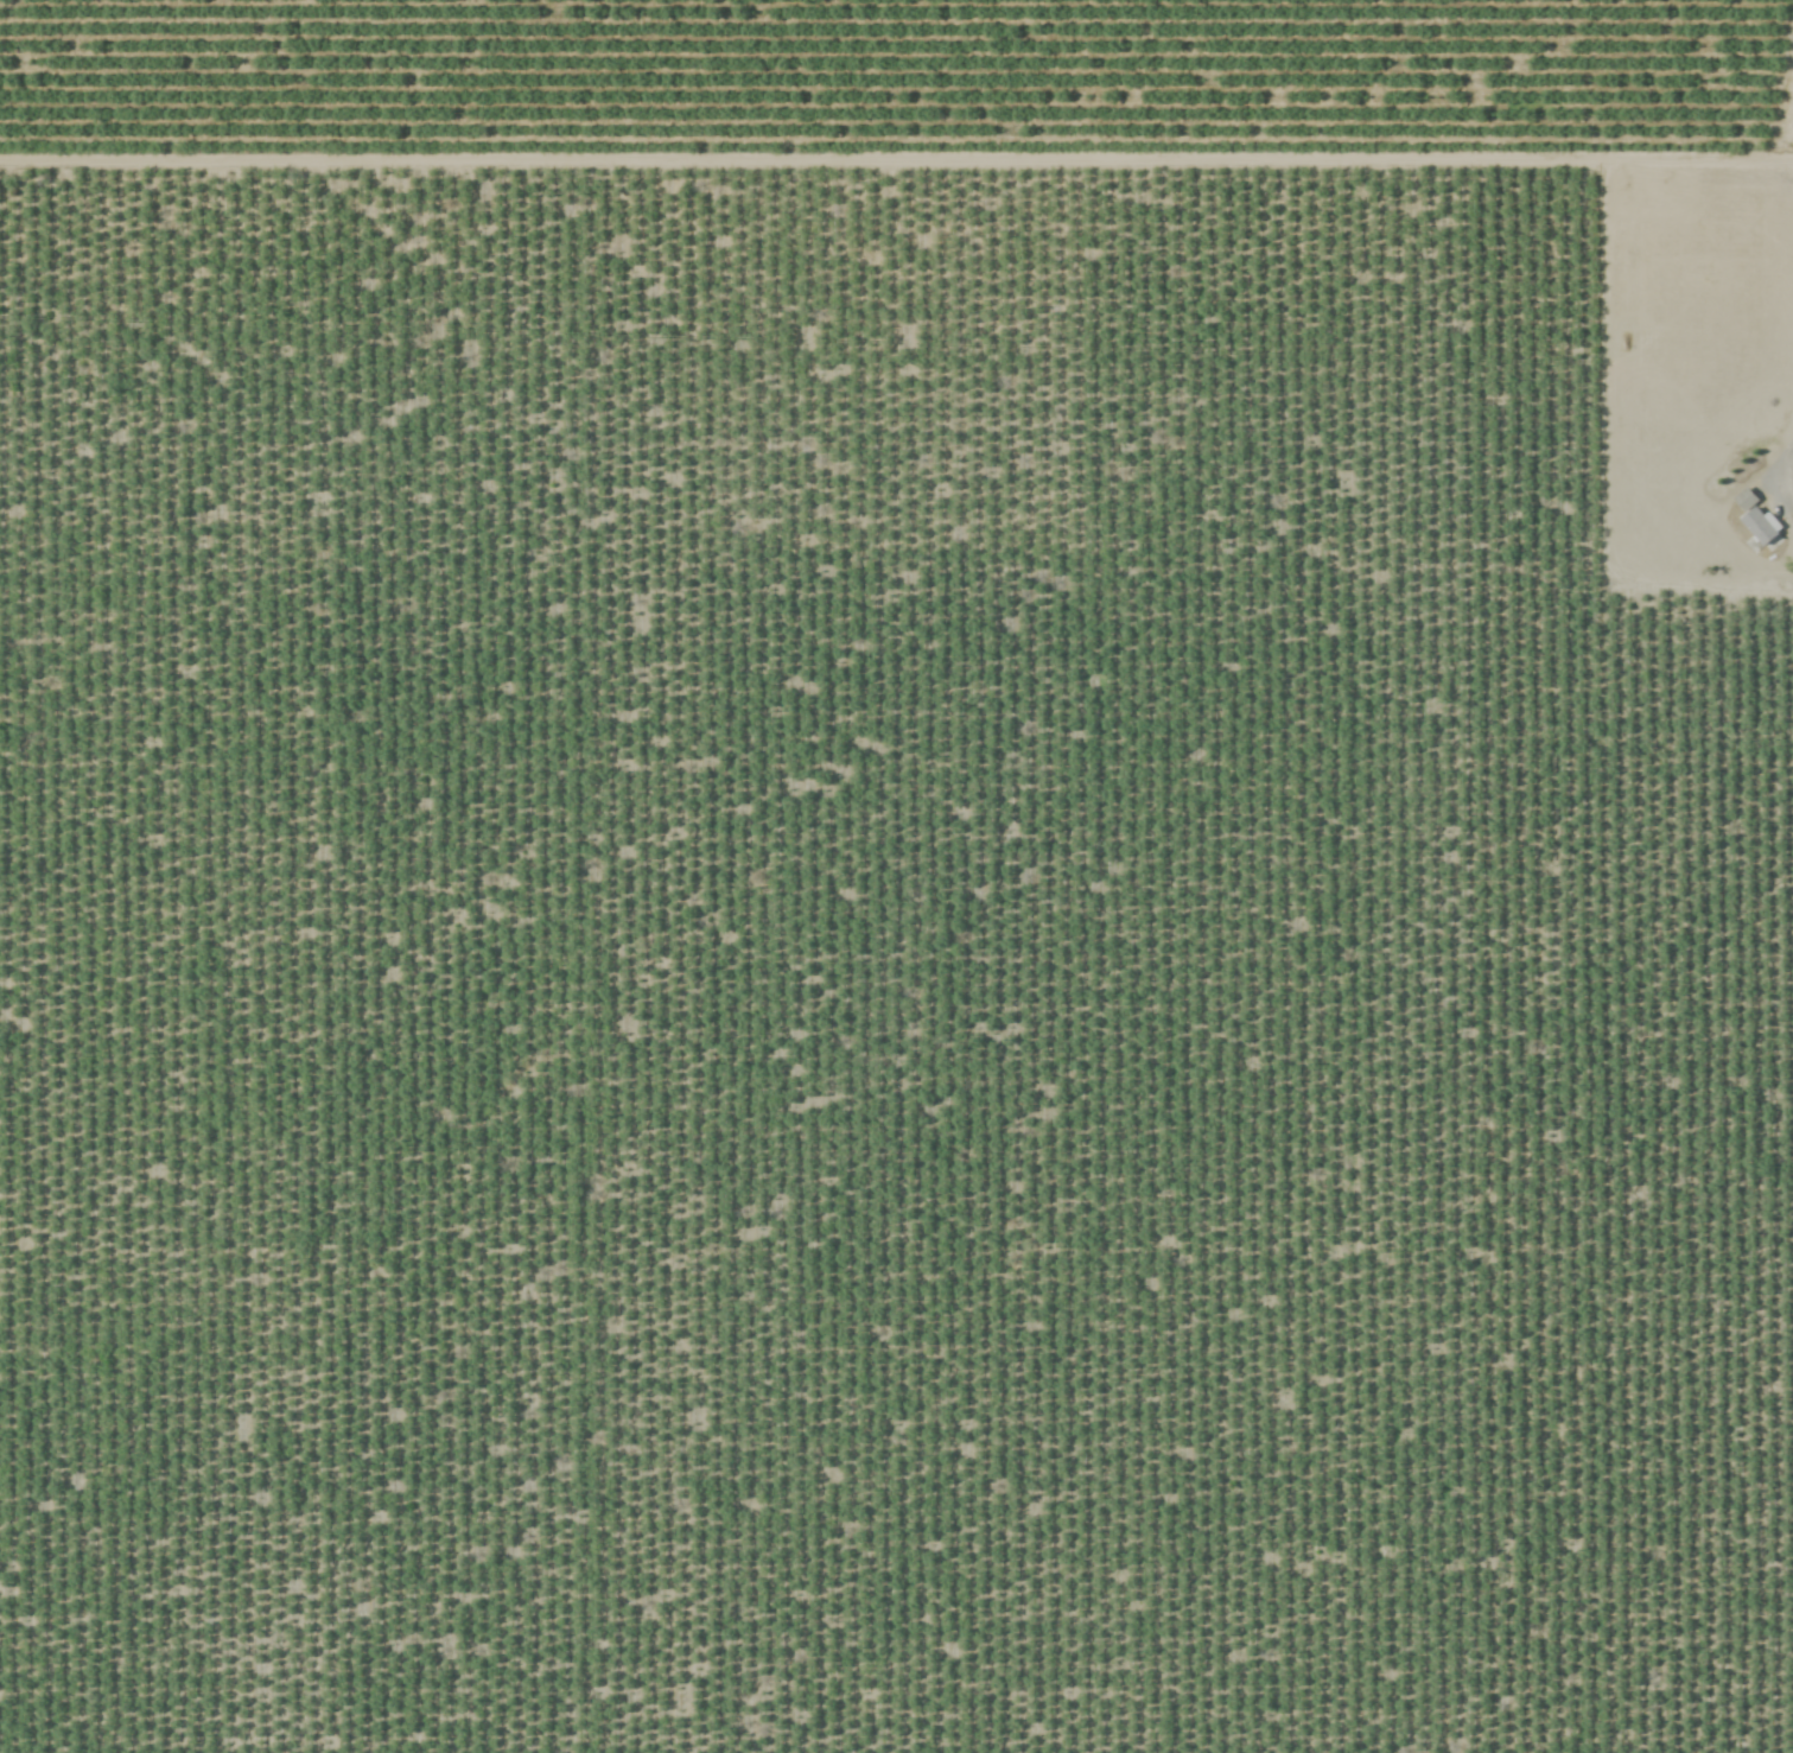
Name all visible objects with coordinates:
road: (1506, 154)
road: (579, 169)
road: (1779, 461)
building: (1791, 482)
building: (1753, 520)
crop: (896, 876)

